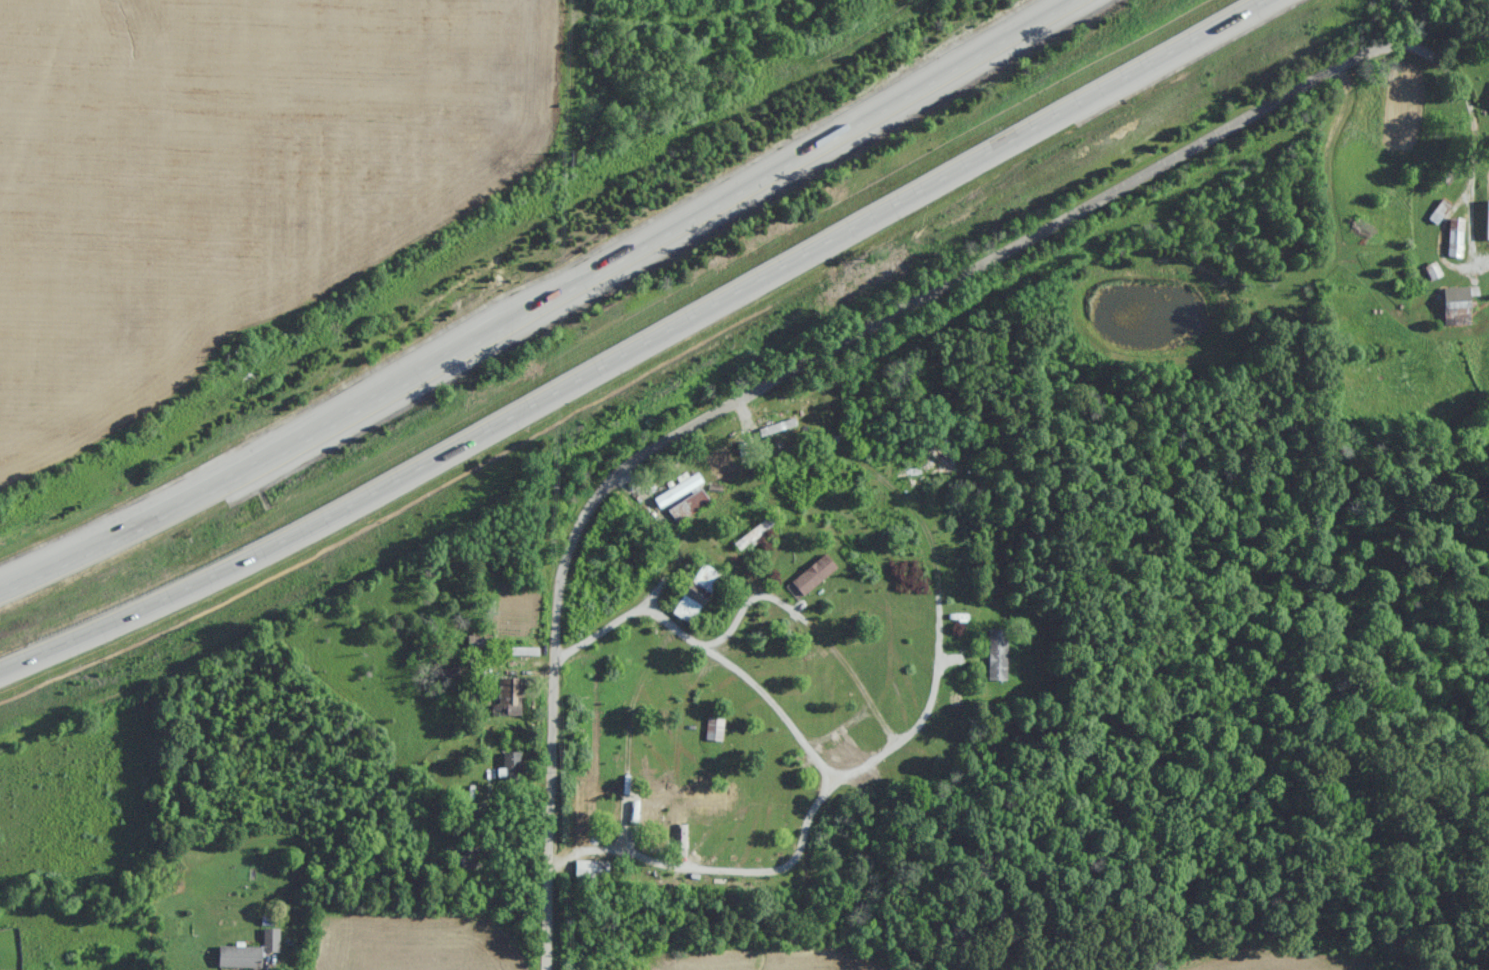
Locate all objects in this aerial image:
building: (1486, 221)
road: (1471, 238)
building: (1454, 239)
road: (543, 304)
building: (1457, 305)
road: (873, 324)
road: (635, 344)
building: (774, 444)
building: (933, 456)
building: (676, 490)
building: (687, 507)
building: (752, 535)
road: (687, 536)
building: (695, 594)
road: (806, 622)
building: (477, 645)
building: (518, 652)
building: (996, 655)
road: (748, 678)
building: (505, 697)
building: (712, 729)
building: (511, 767)
road: (830, 787)
building: (464, 857)
building: (590, 870)
building: (247, 952)

